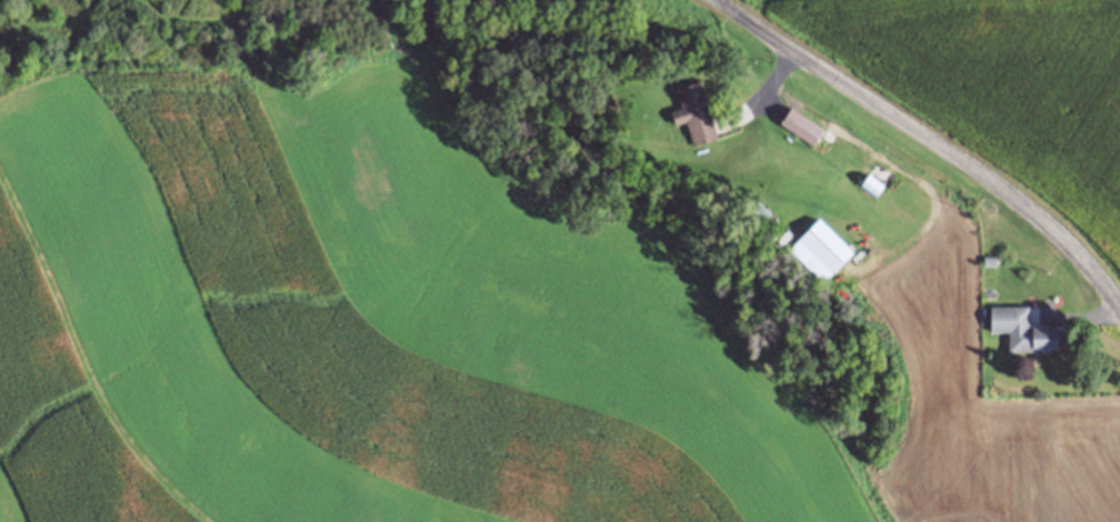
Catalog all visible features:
building: (599, 99)
building: (693, 111)
building: (800, 124)
road: (928, 140)
building: (870, 183)
building: (759, 209)
building: (771, 231)
building: (823, 242)
building: (990, 261)
building: (1022, 325)

